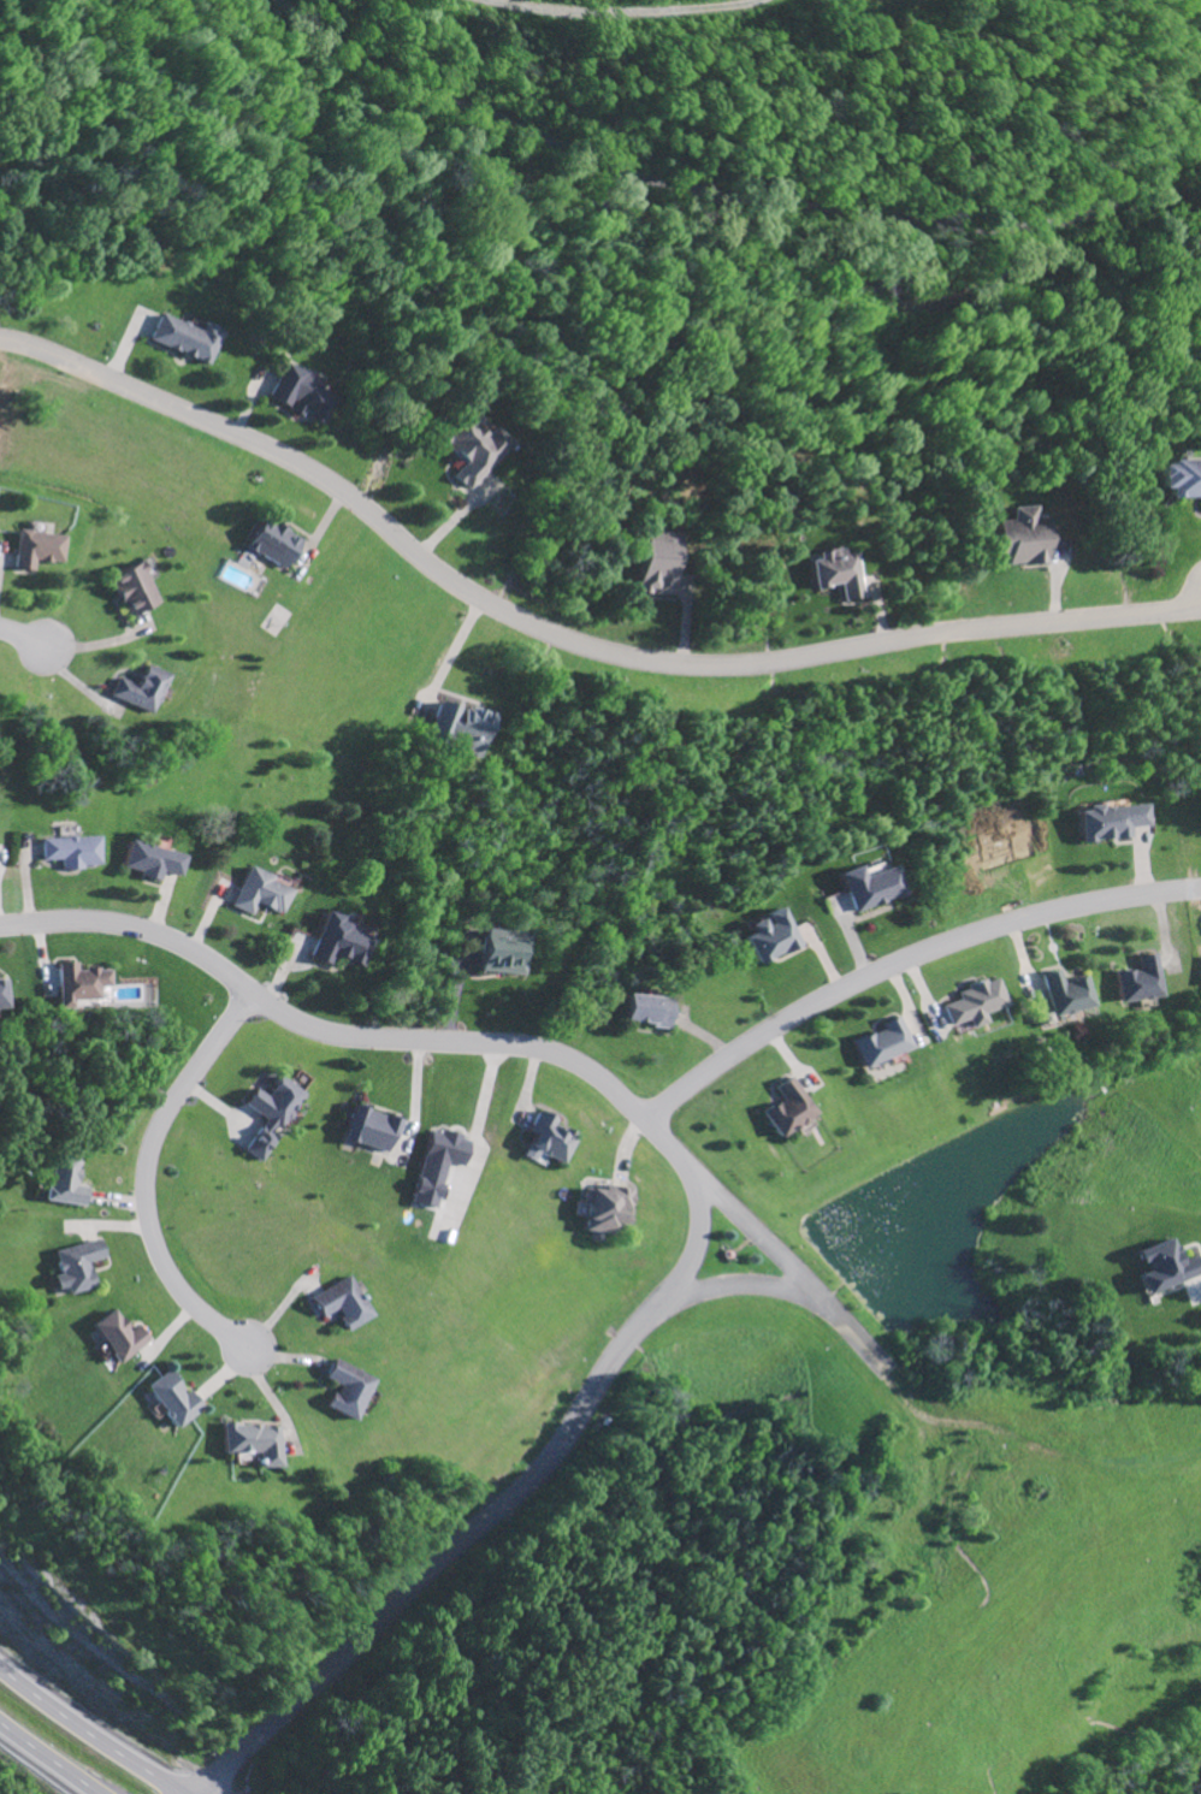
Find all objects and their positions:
road: (622, 14)
road: (728, 195)
building: (182, 339)
building: (296, 395)
building: (467, 448)
building: (1182, 480)
building: (1018, 539)
building: (268, 546)
building: (37, 551)
building: (656, 564)
building: (835, 574)
building: (132, 591)
road: (24, 637)
road: (567, 638)
building: (144, 691)
building: (460, 730)
building: (1111, 824)
building: (73, 853)
building: (154, 863)
building: (871, 889)
building: (262, 895)
building: (770, 939)
building: (341, 946)
building: (505, 953)
road: (903, 957)
building: (1138, 982)
building: (81, 987)
building: (4, 996)
building: (1064, 996)
building: (971, 1005)
building: (644, 1013)
building: (878, 1046)
building: (788, 1112)
building: (272, 1117)
building: (369, 1132)
building: (546, 1142)
building: (436, 1167)
road: (149, 1174)
building: (65, 1183)
road: (692, 1198)
building: (602, 1212)
road: (780, 1262)
building: (75, 1268)
building: (1166, 1269)
road: (735, 1287)
building: (342, 1305)
building: (116, 1339)
building: (344, 1392)
building: (172, 1402)
building: (252, 1445)
road: (91, 1723)
road: (48, 1755)

